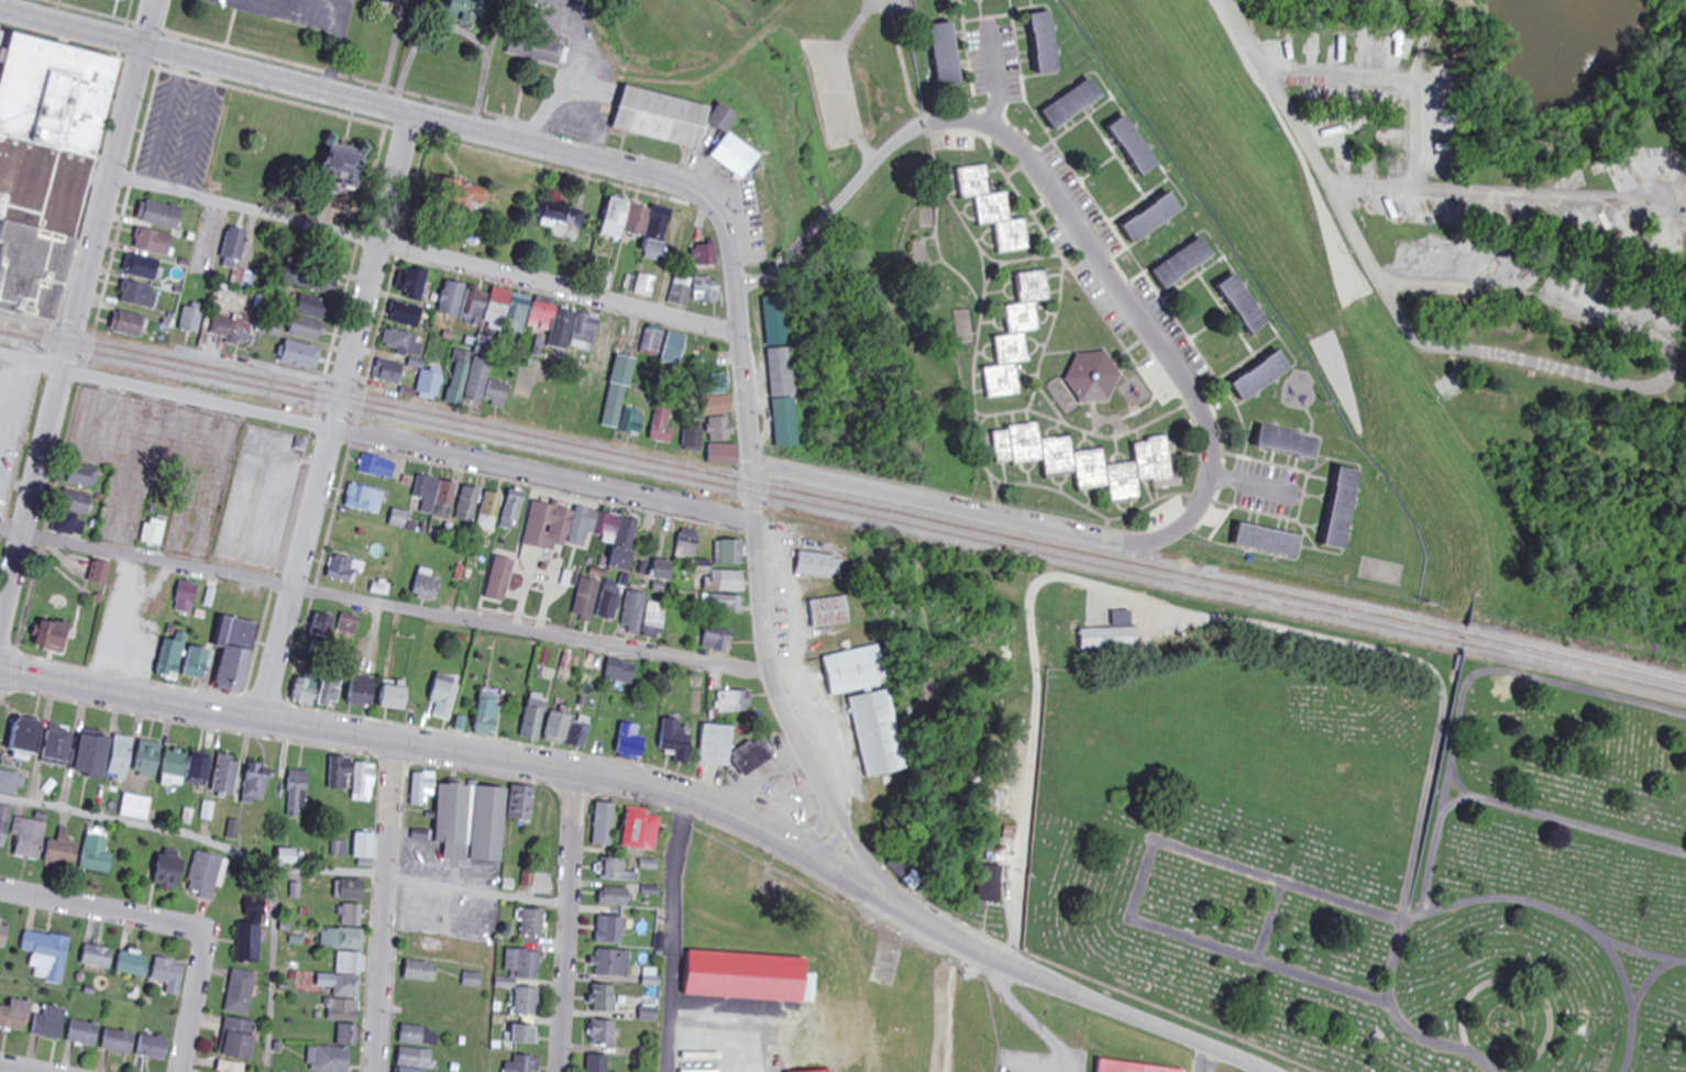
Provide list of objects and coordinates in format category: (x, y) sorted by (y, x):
road: (1420, 43)
traffic signals: (145, 47)
road: (1390, 85)
road: (359, 100)
building: (45, 162)
road: (1386, 186)
road: (425, 256)
road: (76, 319)
road: (272, 367)
road: (1172, 371)
road: (1613, 383)
road: (332, 417)
road: (376, 439)
railway: (842, 502)
railway: (842, 512)
road: (758, 566)
road: (384, 603)
road: (1123, 630)
road: (1511, 674)
road: (1038, 682)
road: (1440, 686)
road: (1462, 788)
road: (657, 789)
road: (1512, 807)
road: (827, 833)
park: (1369, 852)
road: (280, 865)
road: (1138, 888)
road: (1472, 902)
road: (384, 907)
road: (566, 921)
road: (1268, 921)
road: (170, 924)
road: (1639, 951)
road: (1650, 979)
road: (1522, 981)
road: (18, 1068)
building: (1129, 1069)

